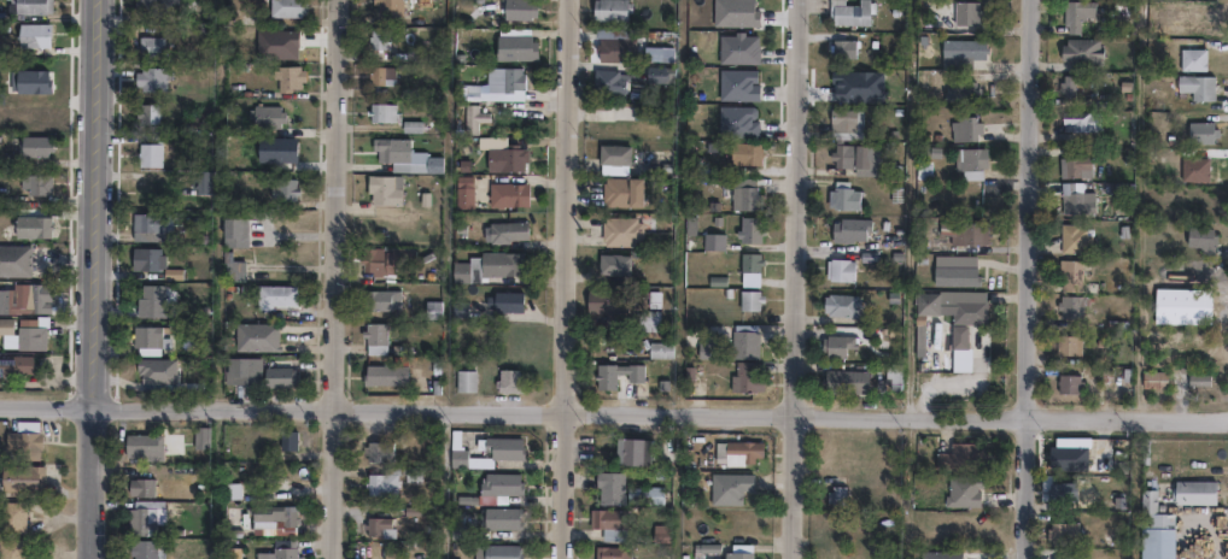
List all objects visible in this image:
building: (29, 6)
building: (386, 6)
building: (153, 7)
building: (286, 7)
building: (515, 8)
building: (609, 8)
building: (850, 10)
building: (966, 11)
building: (1075, 11)
building: (1201, 18)
building: (34, 35)
building: (378, 36)
building: (290, 40)
building: (511, 42)
building: (842, 43)
building: (150, 46)
building: (972, 46)
building: (1080, 46)
building: (735, 47)
building: (379, 72)
building: (661, 75)
building: (287, 77)
building: (501, 77)
building: (150, 78)
building: (31, 80)
building: (1069, 80)
building: (606, 81)
building: (1195, 82)
building: (736, 83)
building: (961, 88)
building: (1, 94)
building: (379, 110)
building: (147, 113)
building: (481, 114)
building: (265, 116)
building: (470, 117)
building: (843, 117)
building: (1080, 117)
building: (736, 120)
building: (966, 125)
building: (1199, 129)
building: (34, 146)
building: (843, 152)
building: (861, 152)
building: (743, 153)
building: (148, 154)
building: (400, 154)
building: (612, 155)
building: (502, 157)
building: (970, 159)
building: (1074, 163)
building: (1201, 165)
building: (924, 166)
building: (199, 181)
building: (33, 183)
building: (381, 187)
building: (283, 189)
building: (620, 190)
building: (148, 192)
building: (466, 192)
building: (504, 193)
building: (737, 193)
building: (843, 193)
building: (1076, 199)
building: (31, 225)
building: (850, 225)
building: (148, 226)
building: (748, 229)
building: (502, 230)
building: (616, 230)
building: (970, 230)
building: (233, 233)
building: (1075, 234)
building: (1200, 235)
building: (711, 241)
building: (380, 257)
building: (14, 261)
building: (748, 261)
building: (485, 264)
building: (612, 264)
building: (158, 265)
building: (840, 266)
building: (233, 267)
building: (1069, 270)
building: (960, 273)
road: (93, 278)
road: (1027, 278)
road: (334, 279)
road: (567, 279)
road: (796, 279)
building: (274, 296)
building: (25, 299)
building: (378, 299)
building: (502, 300)
building: (748, 300)
building: (841, 301)
building: (151, 302)
building: (603, 302)
building: (952, 302)
building: (1071, 302)
building: (1182, 304)
building: (428, 307)
building: (647, 320)
building: (6, 325)
building: (27, 335)
building: (372, 336)
building: (150, 337)
building: (255, 337)
building: (743, 341)
building: (1068, 341)
building: (836, 342)
building: (657, 349)
building: (14, 369)
building: (158, 370)
building: (893, 370)
building: (242, 371)
building: (381, 373)
building: (279, 375)
building: (1152, 375)
building: (602, 376)
building: (744, 377)
building: (846, 377)
building: (462, 379)
building: (505, 379)
building: (1068, 379)
building: (1201, 379)
road: (613, 414)
building: (201, 436)
building: (24, 437)
building: (290, 437)
building: (141, 443)
building: (376, 451)
building: (631, 452)
building: (736, 453)
building: (505, 454)
building: (960, 457)
building: (23, 476)
building: (382, 483)
building: (142, 486)
road: (445, 486)
building: (495, 488)
building: (609, 488)
building: (727, 488)
building: (964, 490)
building: (1063, 492)
building: (1194, 492)
building: (644, 494)
building: (836, 495)
building: (1153, 512)
building: (12, 514)
building: (142, 516)
building: (274, 517)
building: (499, 518)
building: (608, 523)
building: (378, 528)
building: (458, 531)
building: (1063, 532)
building: (659, 534)
building: (12, 547)
building: (145, 548)
building: (283, 549)
building: (233, 552)
building: (496, 552)
building: (739, 552)
building: (610, 553)
building: (935, 554)
building: (828, 555)
building: (1068, 558)
building: (1081, 558)

